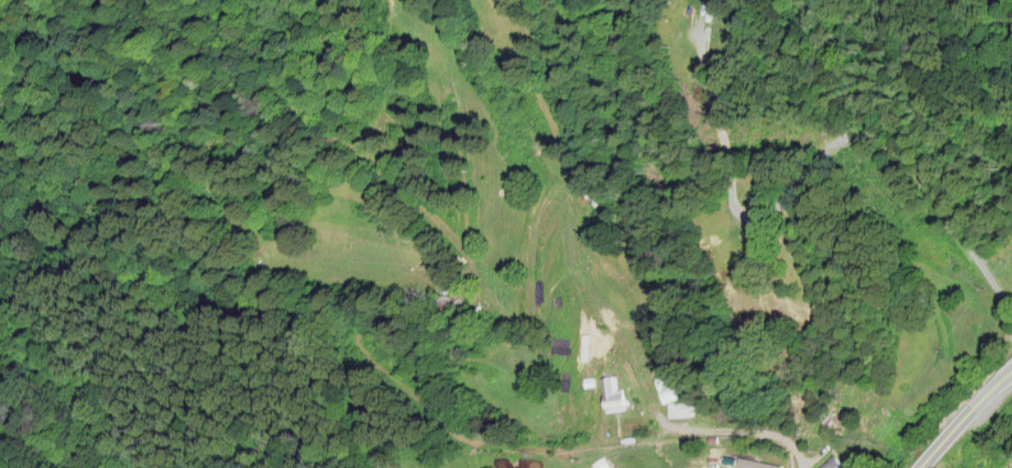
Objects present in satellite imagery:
road: (874, 162)
building: (613, 396)
building: (670, 397)
road: (963, 414)
road: (743, 438)
building: (837, 462)

